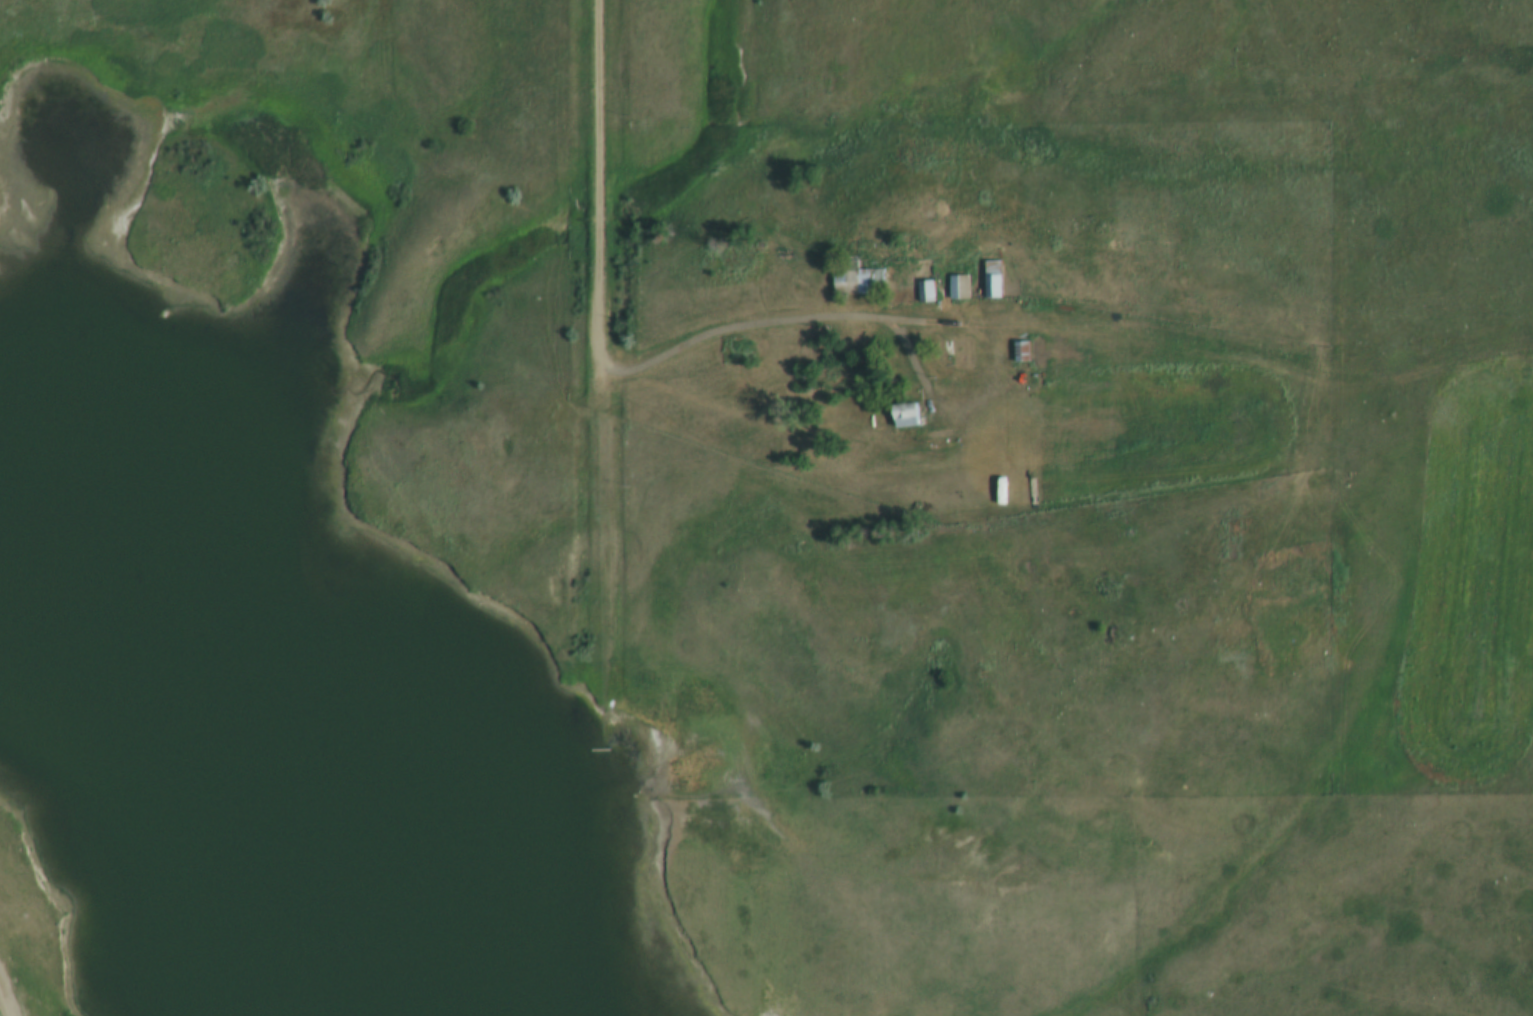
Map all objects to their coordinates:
road: (599, 184)
building: (737, 254)
building: (996, 279)
building: (865, 280)
building: (960, 287)
road: (758, 327)
building: (746, 350)
building: (1026, 351)
road: (1229, 360)
building: (911, 415)
road: (4, 1004)

